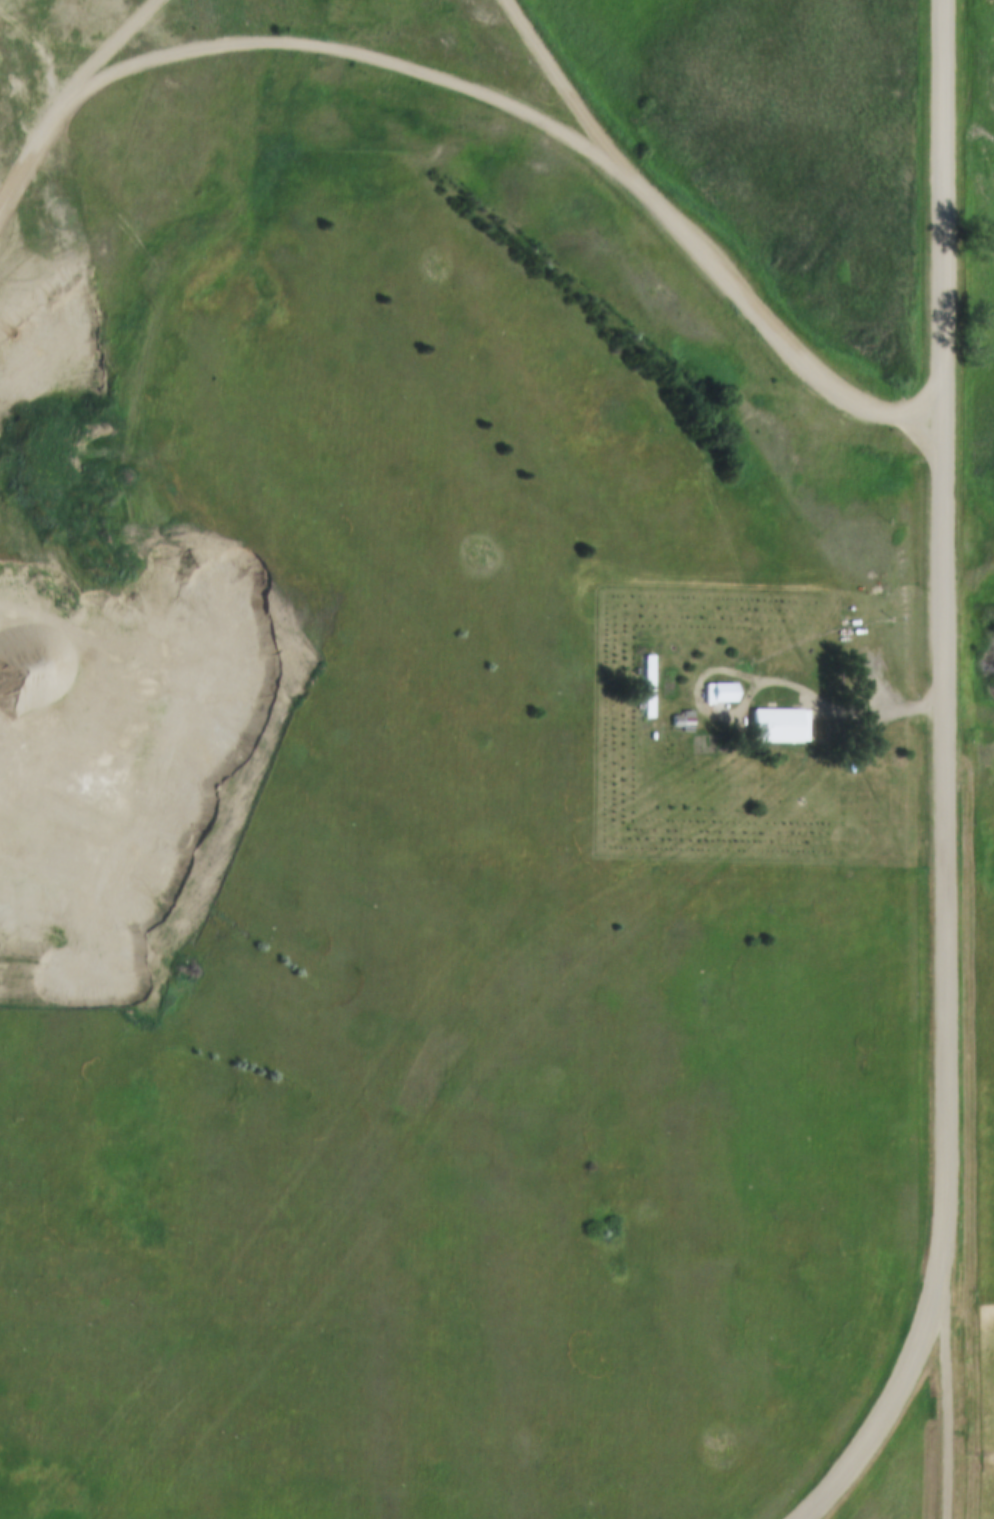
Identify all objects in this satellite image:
road: (702, 245)
quarry: (105, 325)
building: (653, 685)
building: (648, 688)
building: (726, 691)
road: (823, 704)
building: (682, 718)
building: (693, 720)
building: (782, 725)
road: (947, 778)
road: (949, 1408)

